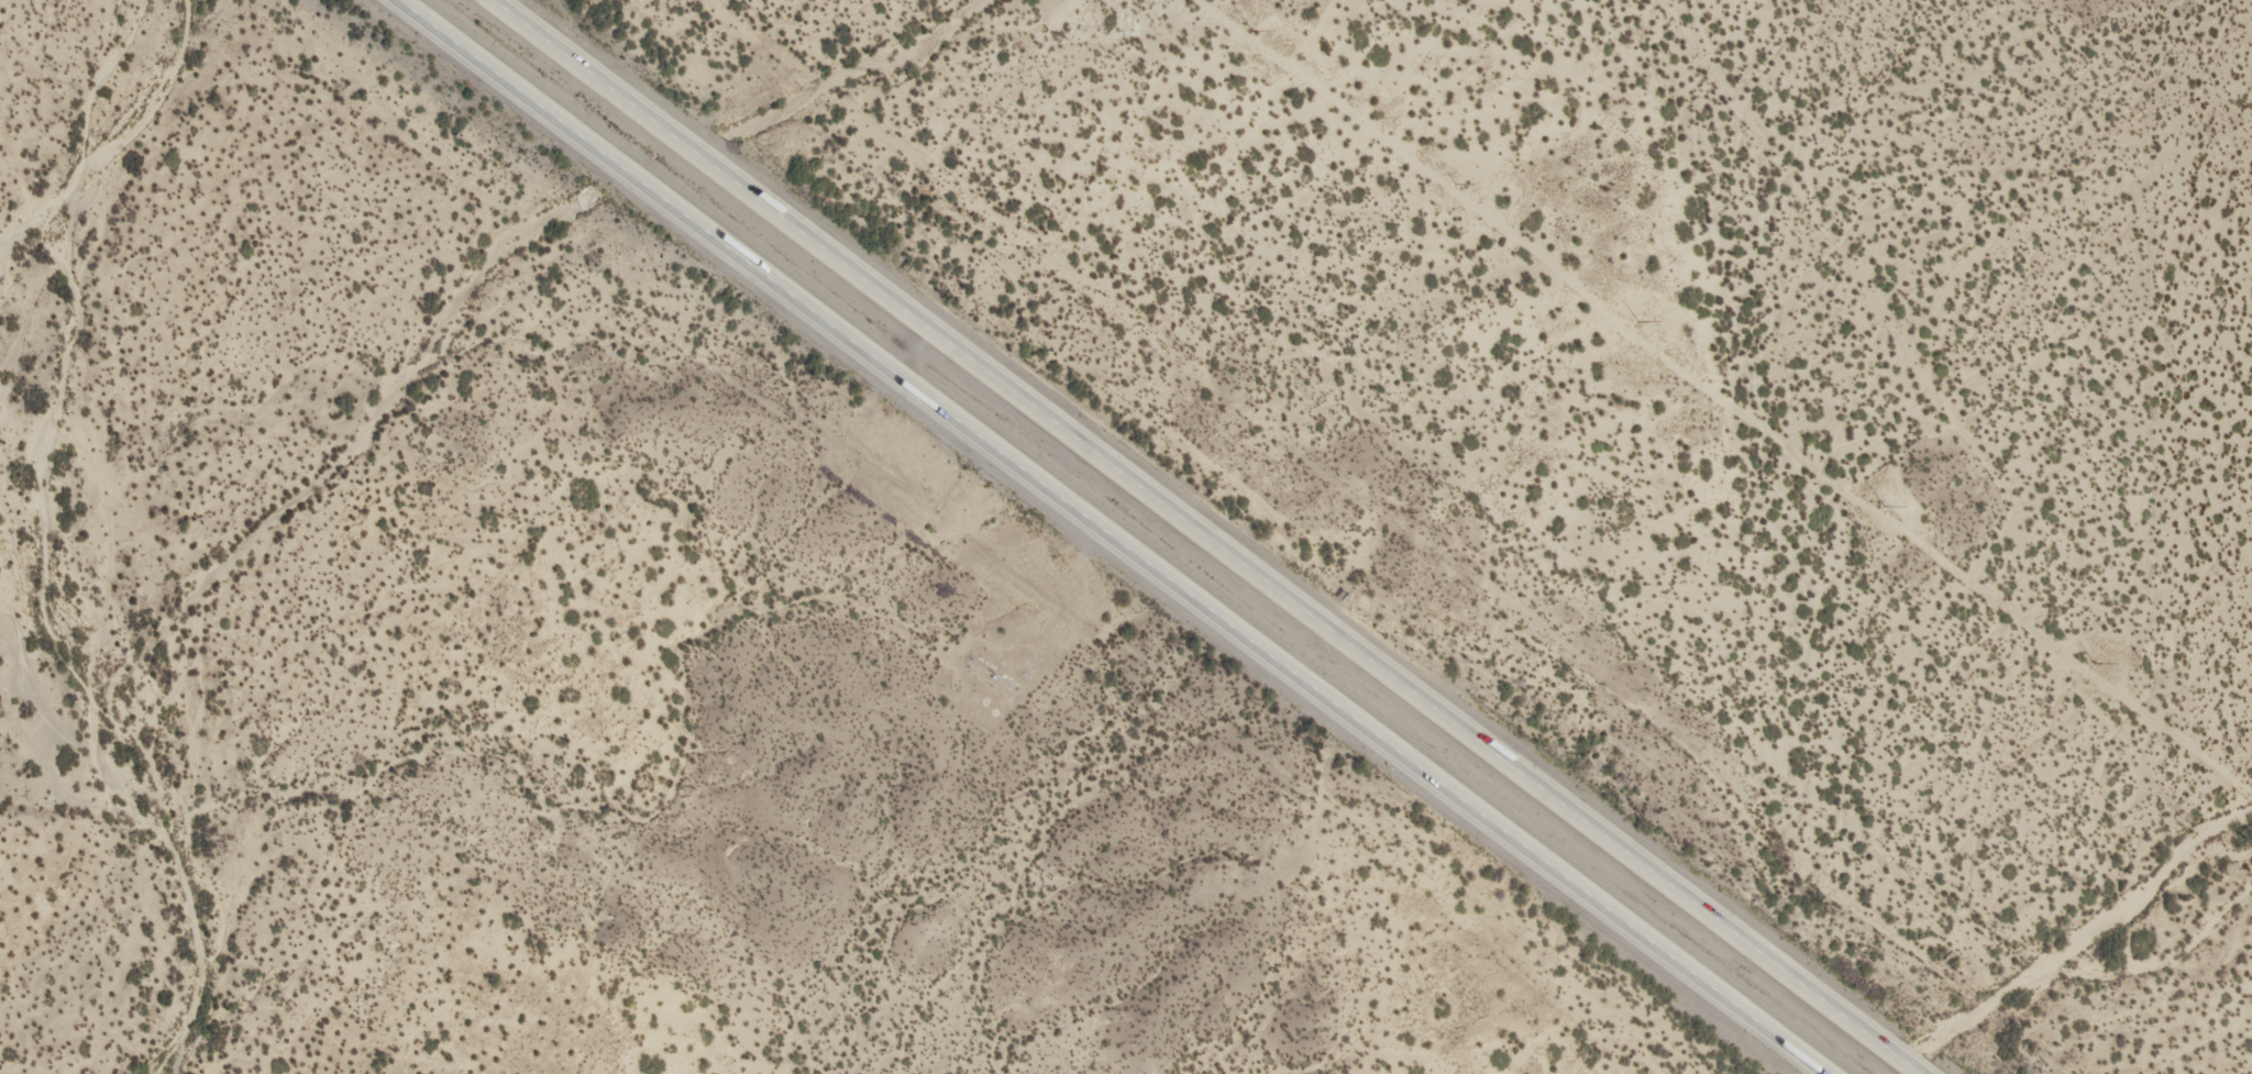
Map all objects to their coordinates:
road: (1897, 444)
road: (1113, 536)
road: (1202, 536)

